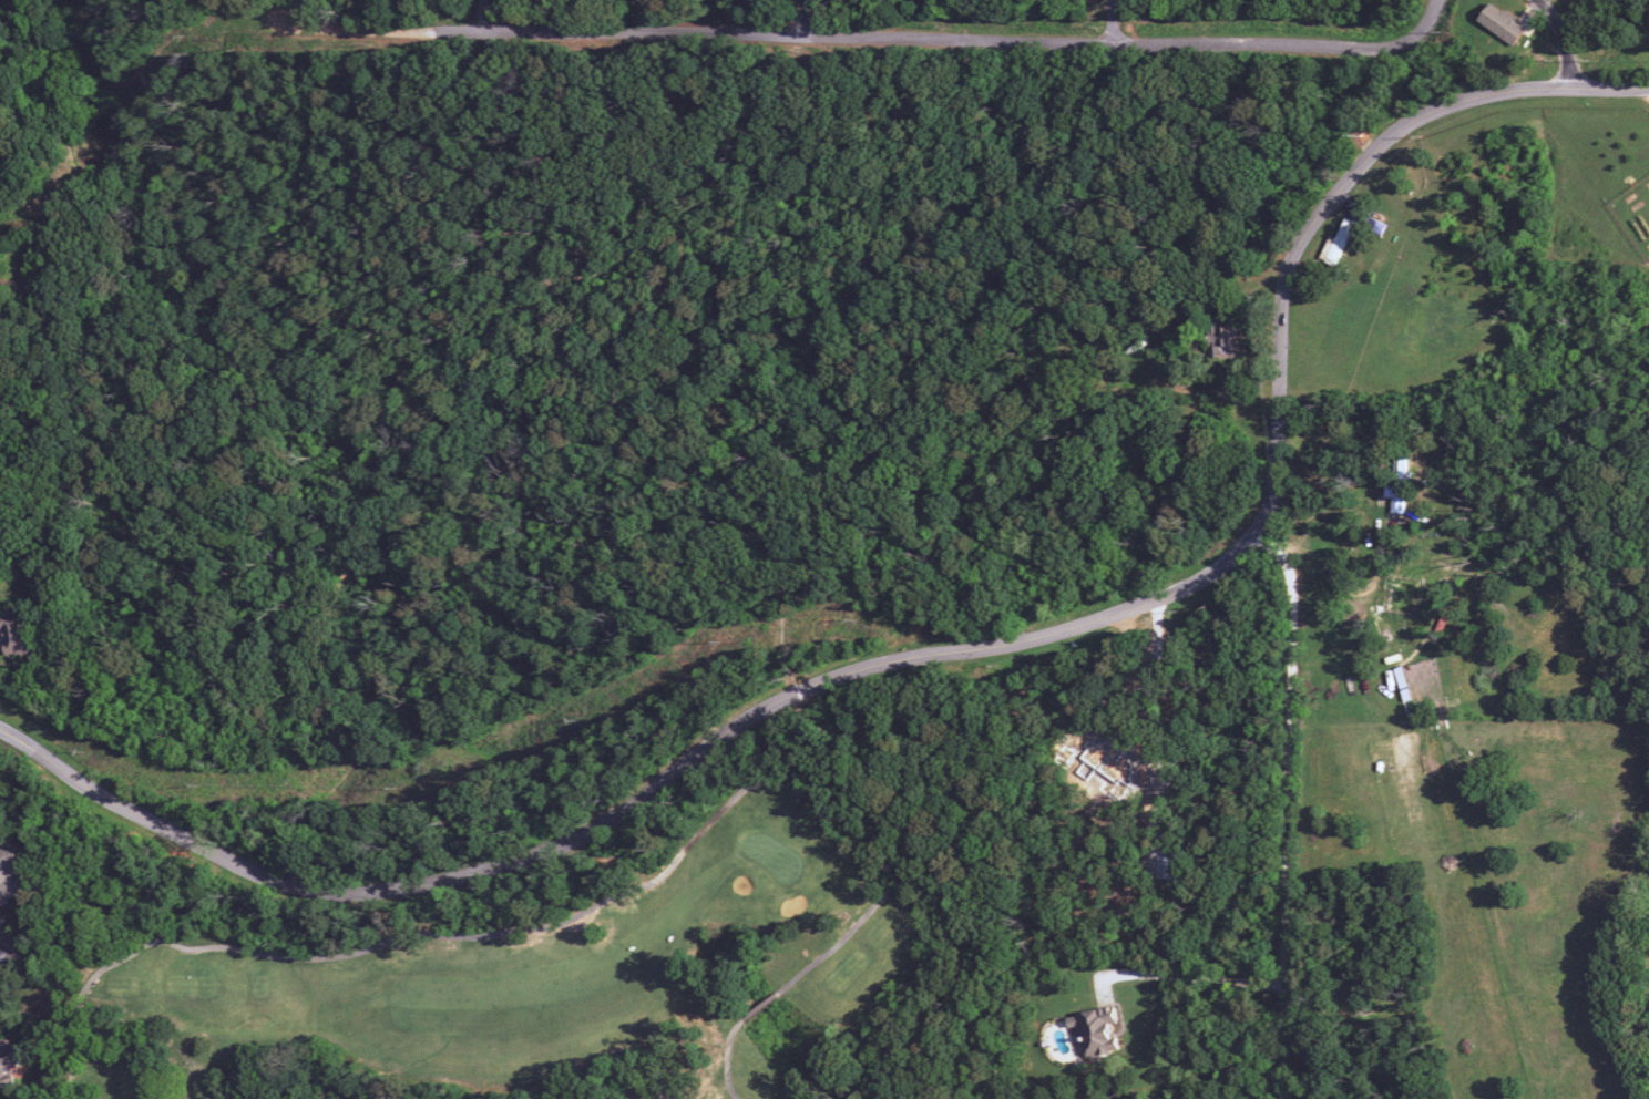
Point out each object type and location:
road: (1560, 8)
road: (810, 20)
building: (1502, 24)
road: (1118, 25)
road: (1568, 38)
road: (877, 42)
building: (1340, 242)
road: (663, 310)
building: (1221, 339)
building: (1395, 486)
building: (16, 633)
road: (780, 635)
road: (945, 653)
road: (391, 689)
road: (798, 691)
road: (1289, 808)
building: (9, 877)
road: (954, 907)
road: (389, 913)
building: (9, 958)
road: (1194, 978)
park: (526, 982)
building: (1096, 1030)
building: (8, 1065)

